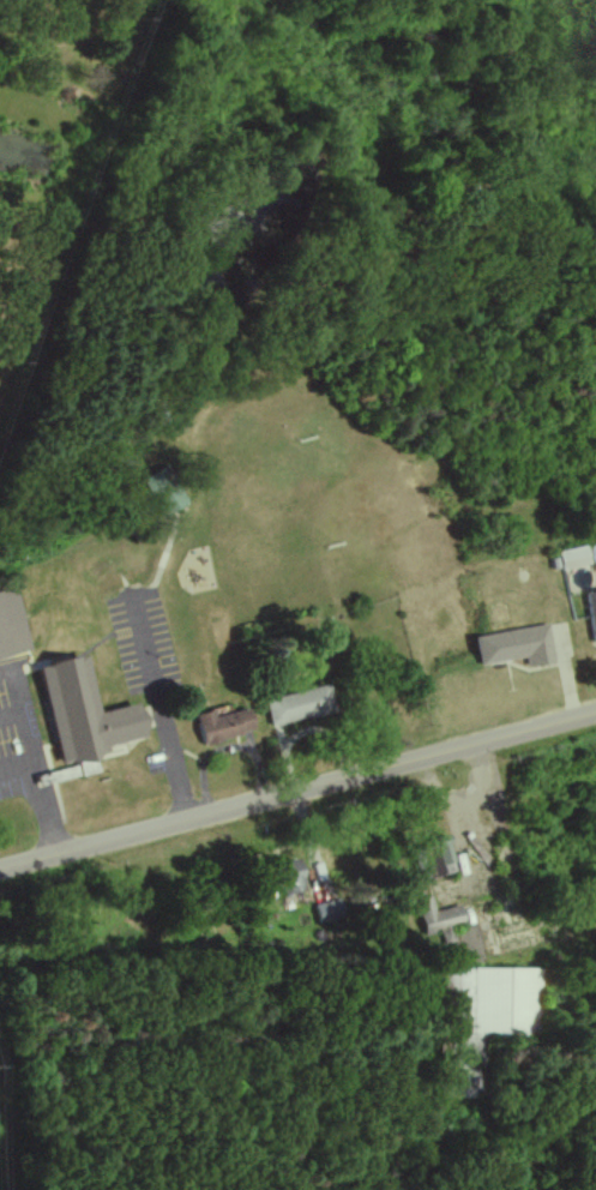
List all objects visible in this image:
building: (165, 491)
building: (574, 558)
building: (592, 613)
building: (11, 627)
building: (518, 647)
building: (300, 707)
building: (86, 715)
road: (163, 715)
building: (225, 726)
road: (297, 791)
building: (290, 878)
building: (329, 912)
building: (439, 916)
building: (492, 1002)

